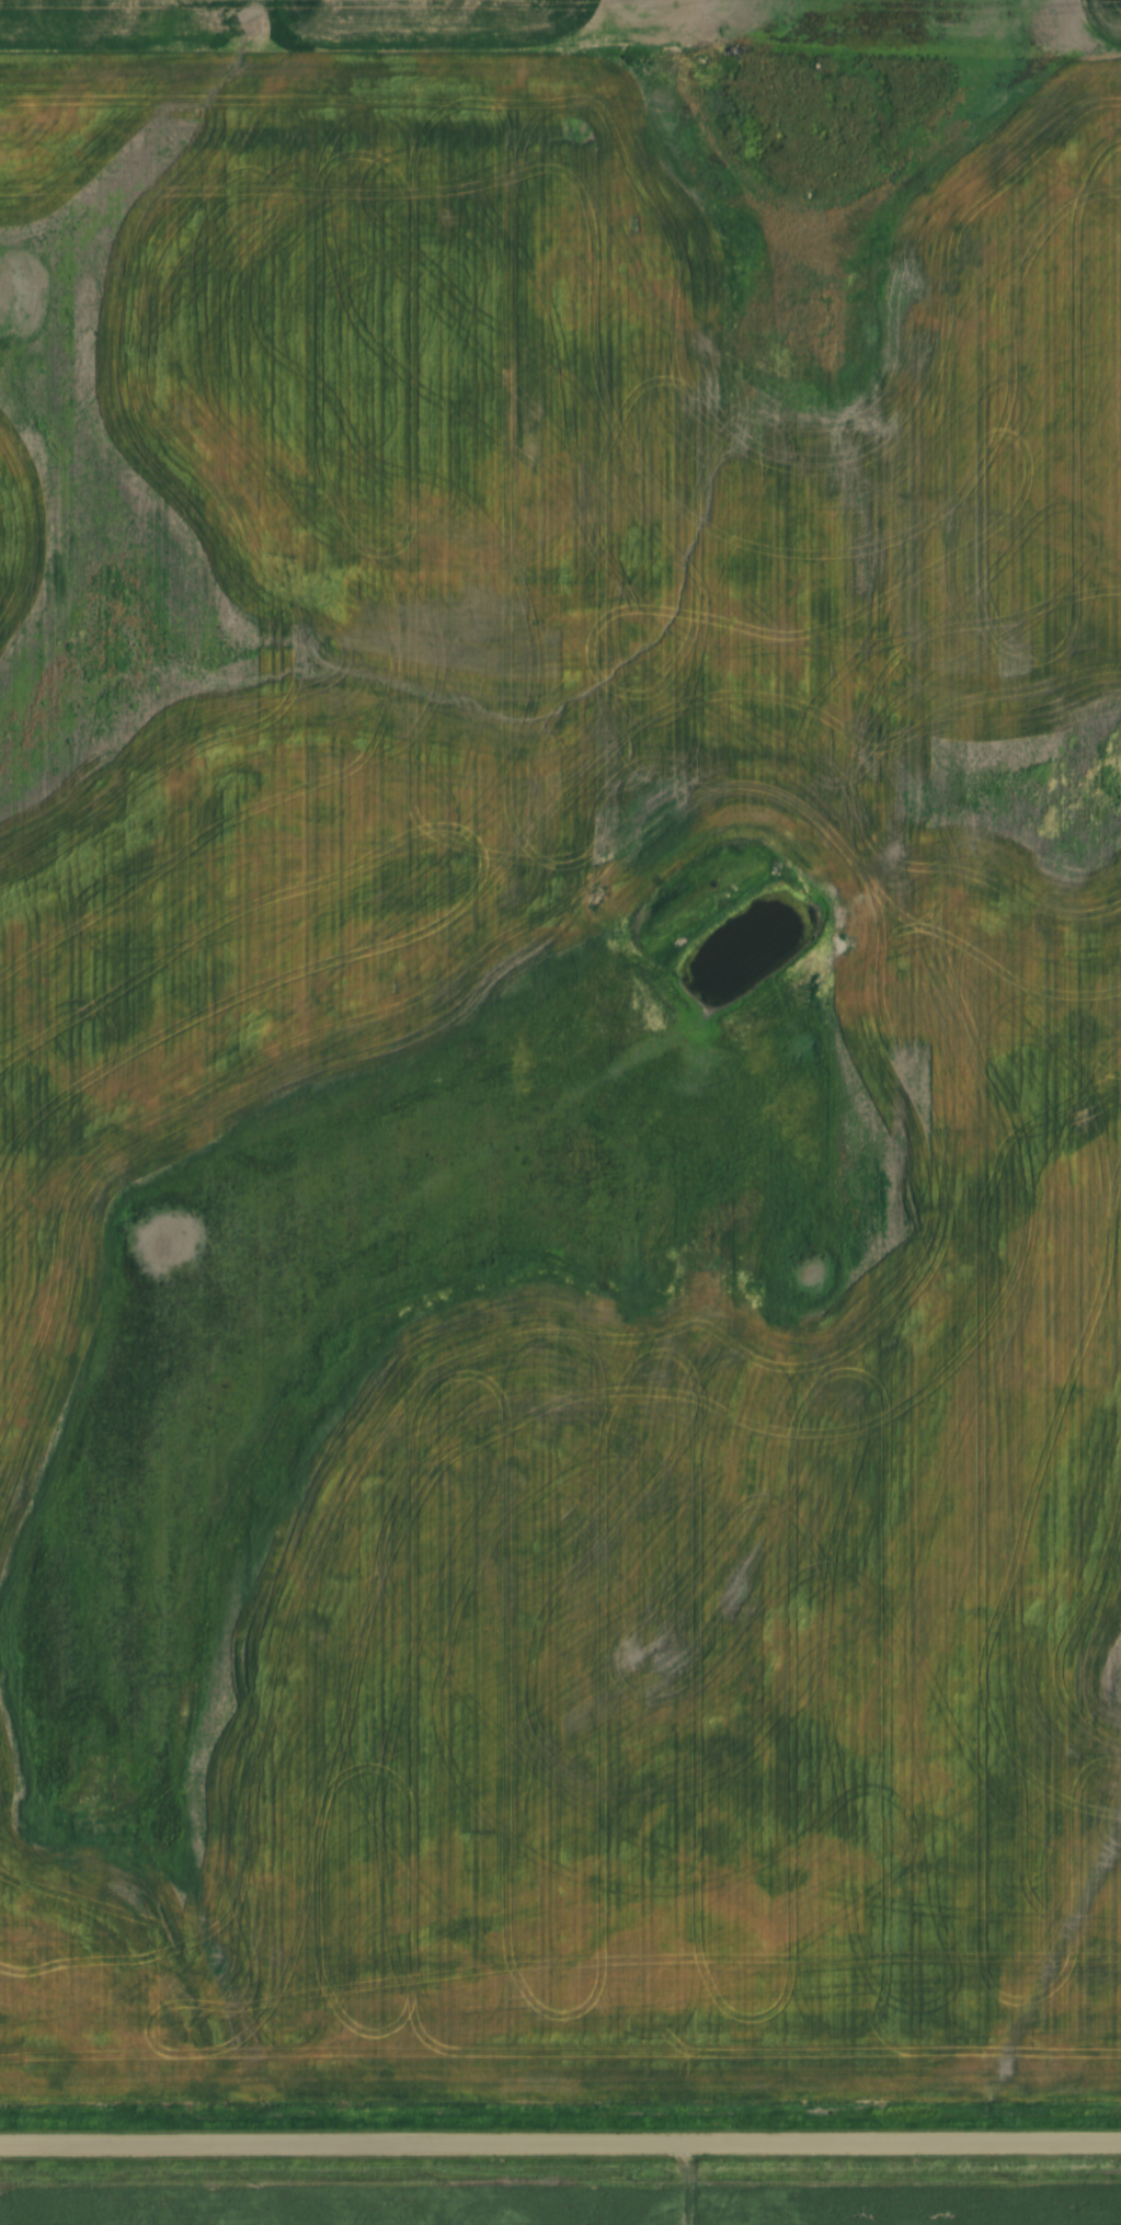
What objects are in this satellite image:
road: (560, 2144)

